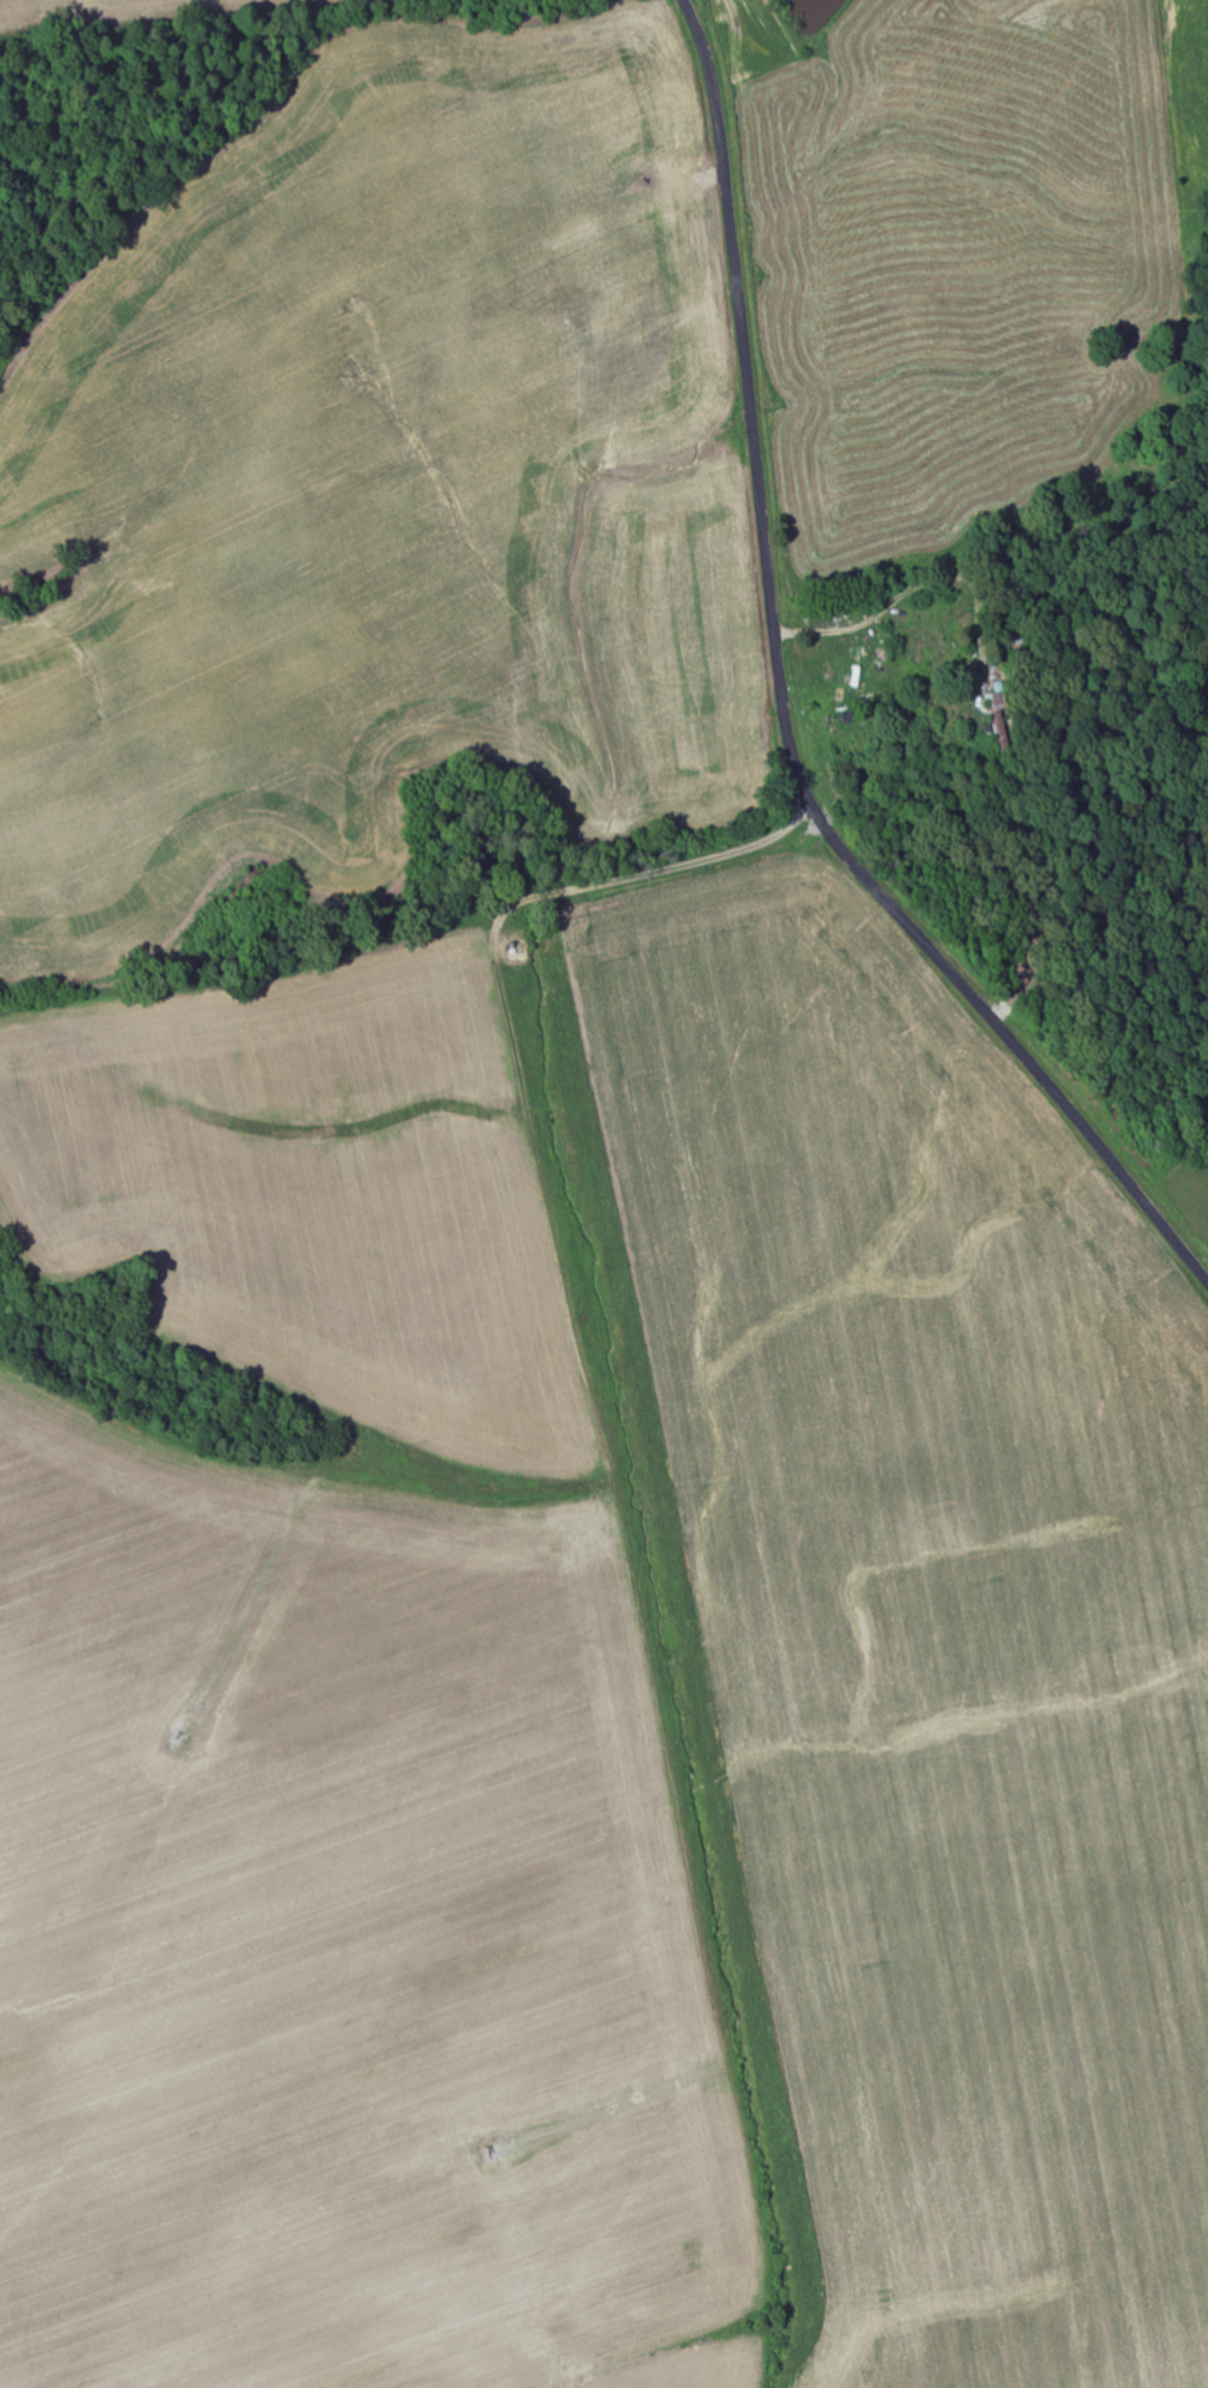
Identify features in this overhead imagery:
road: (786, 710)

